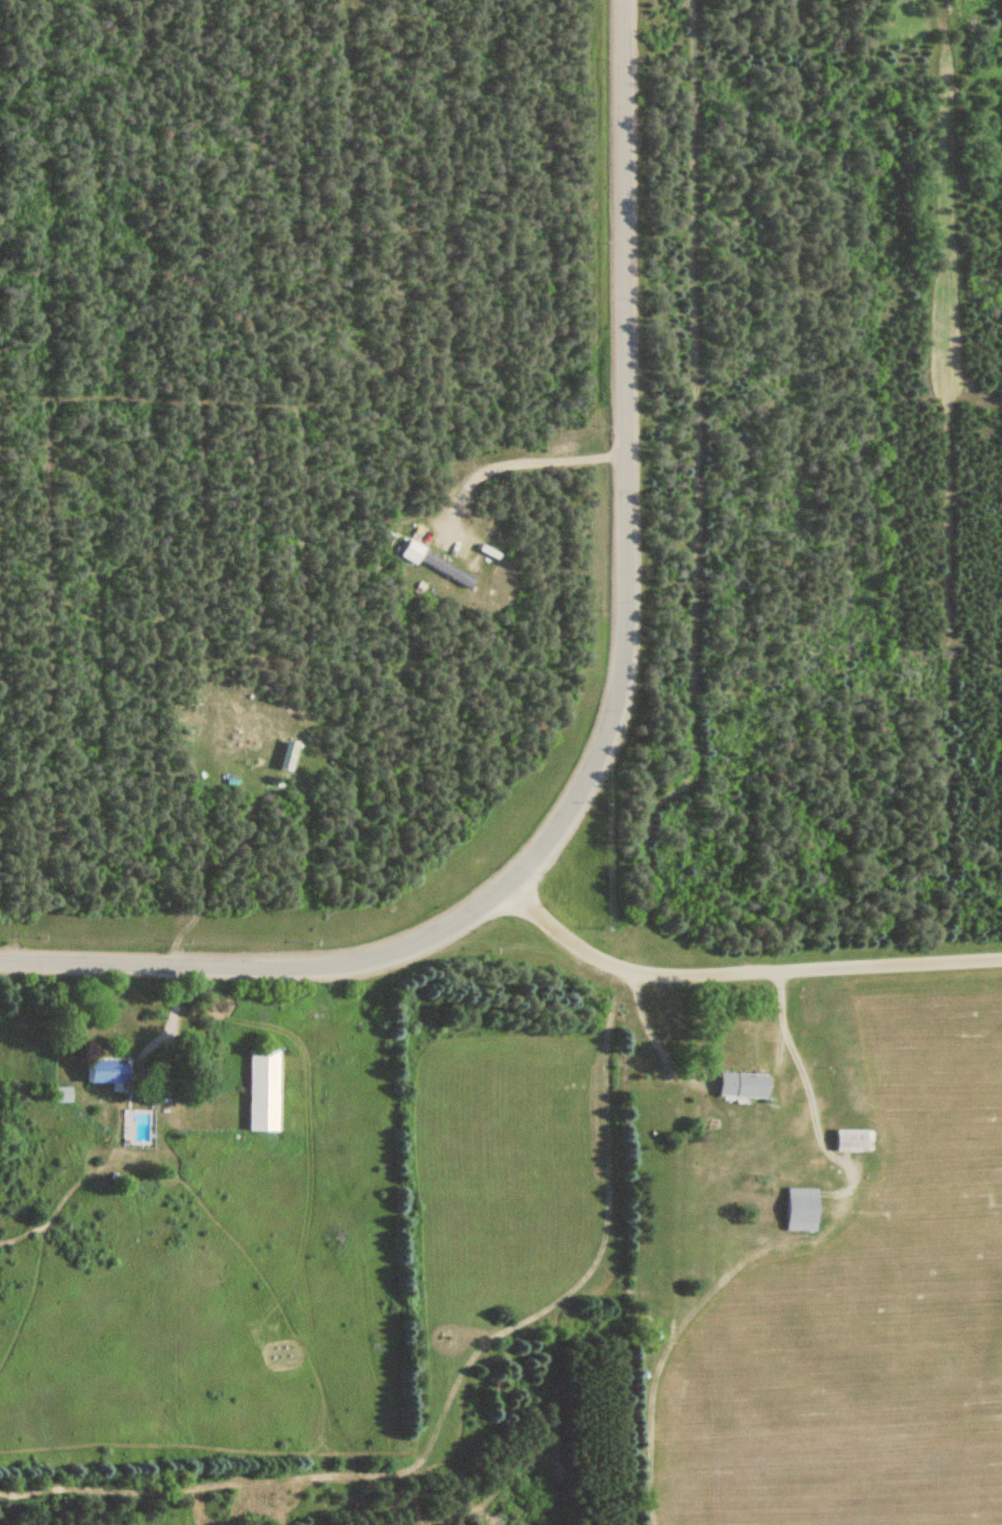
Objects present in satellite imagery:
road: (626, 459)
building: (410, 551)
building: (447, 569)
road: (740, 966)
road: (263, 967)
road: (787, 1018)
road: (657, 1040)
building: (105, 1072)
building: (741, 1085)
building: (261, 1091)
road: (191, 1101)
road: (821, 1127)
building: (852, 1141)
building: (800, 1209)

